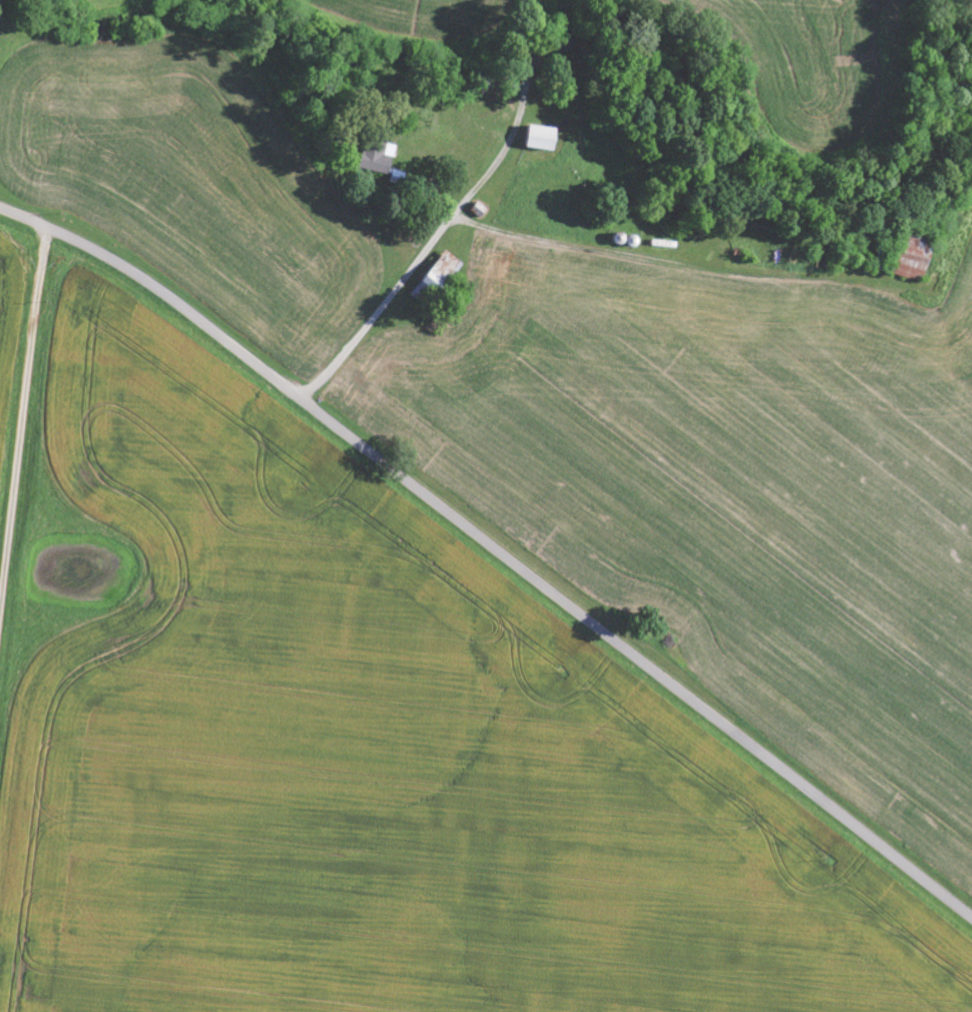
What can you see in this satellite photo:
building: (543, 137)
building: (378, 155)
building: (915, 263)
building: (443, 273)
road: (22, 431)
road: (494, 550)

